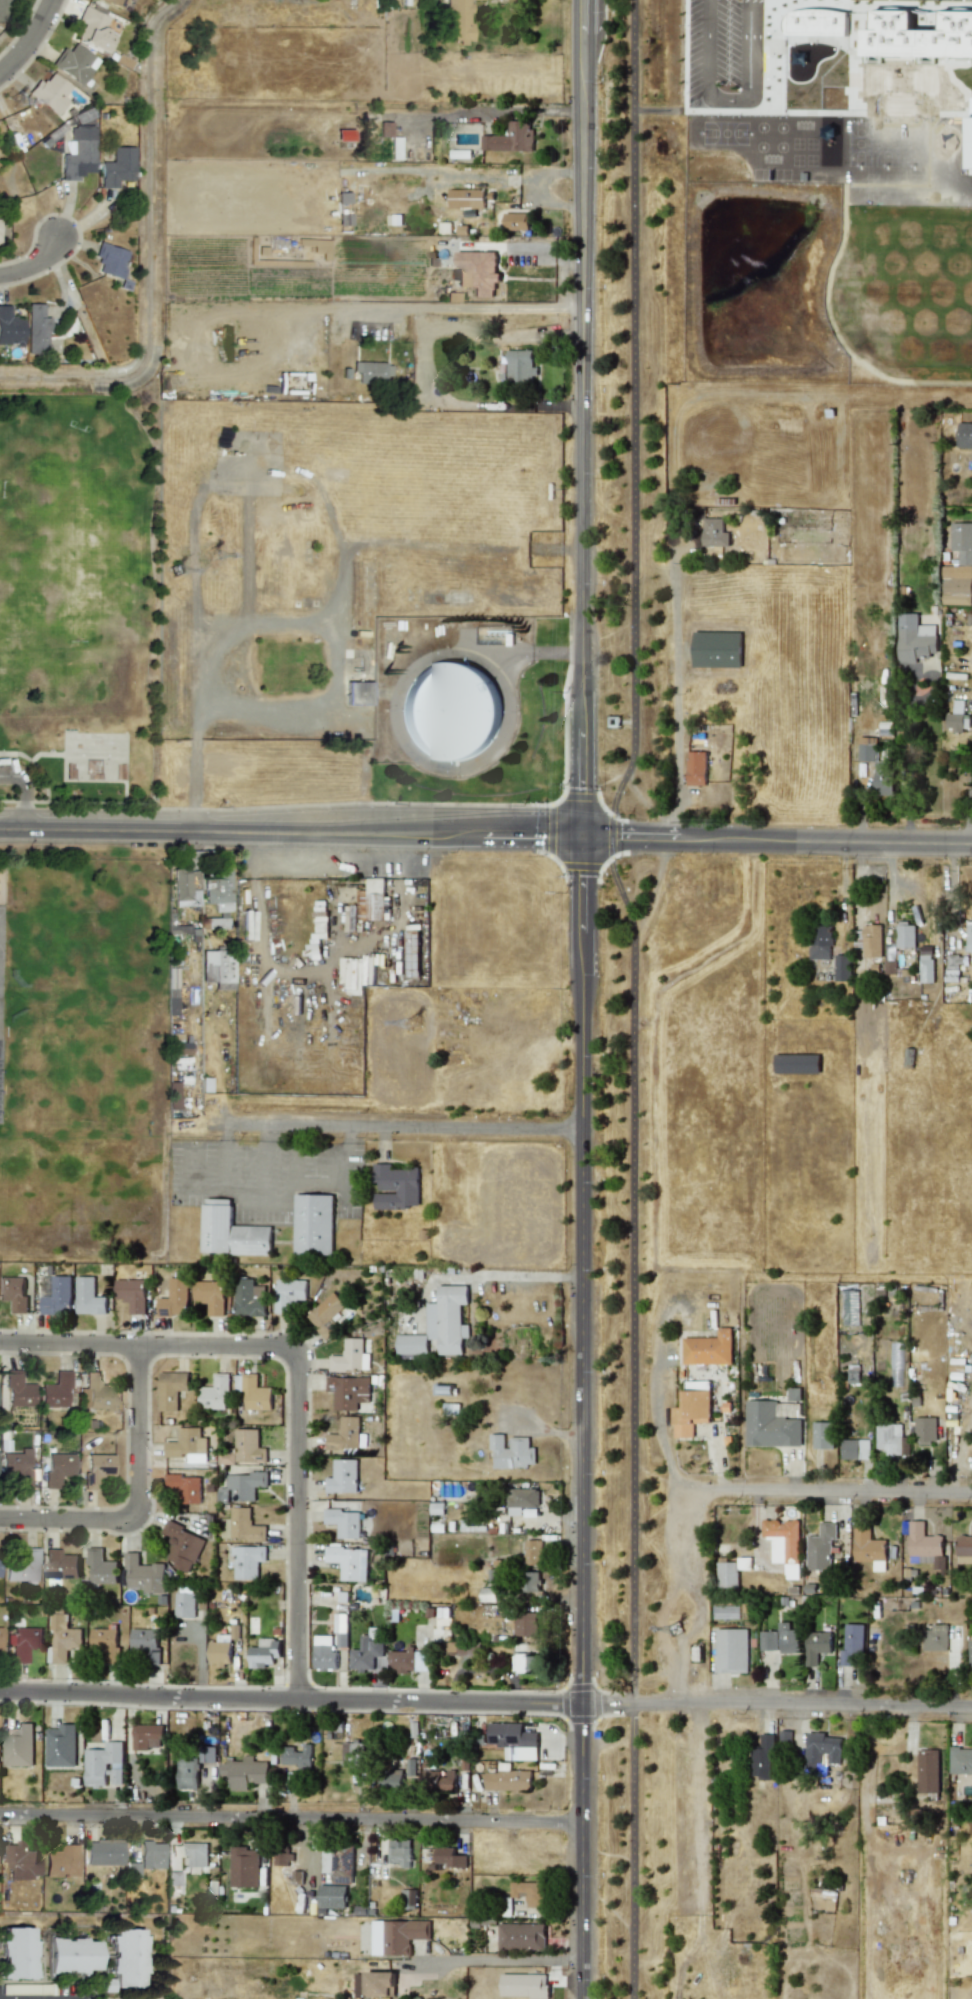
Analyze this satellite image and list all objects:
building: (114, 3)
building: (3, 6)
building: (457, 20)
building: (815, 22)
building: (92, 29)
building: (918, 36)
road: (30, 39)
building: (73, 63)
building: (49, 93)
power tower: (18, 104)
road: (490, 110)
building: (971, 135)
building: (511, 138)
road: (586, 152)
building: (78, 154)
building: (117, 167)
building: (472, 198)
building: (516, 221)
building: (110, 260)
road: (34, 264)
building: (477, 272)
road: (493, 308)
building: (9, 328)
building: (35, 329)
building: (520, 365)
building: (372, 371)
road: (505, 405)
building: (964, 434)
building: (714, 532)
power tower: (212, 555)
building: (959, 567)
road: (585, 570)
park: (71, 605)
building: (915, 638)
building: (717, 649)
road: (532, 651)
road: (414, 664)
road: (677, 691)
building: (358, 693)
building: (450, 711)
storage tank: (450, 711)
building: (957, 716)
building: (867, 749)
road: (908, 760)
parking lot: (8, 764)
building: (696, 767)
building: (883, 778)
road: (20, 793)
road: (969, 804)
road: (292, 831)
road: (778, 840)
building: (185, 887)
building: (217, 888)
road: (952, 893)
road: (912, 894)
road: (890, 897)
building: (366, 904)
building: (906, 934)
building: (969, 937)
building: (820, 941)
building: (872, 941)
building: (954, 966)
building: (842, 967)
building: (926, 967)
building: (217, 968)
building: (355, 974)
road: (633, 995)
power tower: (409, 1005)
building: (798, 1063)
road: (404, 1127)
road: (381, 1143)
road: (223, 1157)
road: (263, 1164)
road: (294, 1167)
parking lot: (263, 1176)
road: (189, 1182)
road: (307, 1186)
building: (395, 1187)
building: (312, 1228)
building: (230, 1235)
road: (509, 1275)
building: (14, 1293)
building: (132, 1294)
building: (289, 1294)
building: (59, 1296)
building: (211, 1296)
building: (89, 1297)
building: (176, 1298)
building: (249, 1298)
building: (850, 1307)
building: (325, 1313)
building: (449, 1318)
building: (411, 1344)
building: (709, 1348)
building: (350, 1357)
power tower: (561, 1362)
road: (297, 1373)
building: (18, 1389)
building: (171, 1389)
building: (55, 1391)
building: (348, 1391)
building: (96, 1393)
building: (215, 1393)
building: (256, 1394)
building: (953, 1395)
building: (692, 1412)
road: (585, 1417)
building: (770, 1426)
building: (925, 1430)
building: (345, 1434)
building: (822, 1435)
building: (890, 1438)
building: (188, 1445)
building: (244, 1449)
building: (855, 1449)
building: (511, 1452)
building: (17, 1467)
building: (55, 1468)
building: (96, 1469)
building: (343, 1477)
building: (184, 1487)
building: (242, 1487)
road: (826, 1491)
building: (521, 1500)
road: (138, 1502)
building: (344, 1522)
building: (241, 1526)
building: (867, 1545)
building: (924, 1545)
building: (181, 1546)
building: (822, 1547)
building: (964, 1549)
building: (533, 1552)
building: (247, 1561)
building: (349, 1562)
building: (60, 1564)
building: (100, 1567)
building: (23, 1568)
building: (727, 1574)
building: (144, 1575)
building: (531, 1581)
building: (487, 1593)
building: (184, 1605)
building: (525, 1624)
building: (341, 1628)
power tower: (679, 1629)
building: (0, 1638)
building: (788, 1638)
building: (935, 1638)
building: (62, 1639)
building: (768, 1641)
building: (23, 1642)
building: (852, 1643)
building: (104, 1644)
building: (144, 1645)
building: (817, 1646)
building: (462, 1649)
building: (731, 1650)
building: (219, 1651)
building: (970, 1651)
building: (264, 1653)
building: (324, 1653)
building: (365, 1654)
building: (403, 1660)
building: (524, 1663)
road: (485, 1701)
building: (147, 1736)
building: (516, 1740)
building: (18, 1745)
building: (61, 1746)
building: (822, 1749)
building: (207, 1754)
building: (354, 1755)
building: (296, 1756)
building: (763, 1758)
building: (960, 1761)
building: (104, 1764)
building: (411, 1768)
building: (187, 1771)
building: (928, 1771)
building: (244, 1772)
building: (391, 1777)
building: (438, 1779)
building: (508, 1779)
road: (292, 1818)
building: (400, 1852)
building: (103, 1853)
building: (194, 1854)
building: (152, 1855)
building: (449, 1857)
building: (282, 1858)
building: (22, 1861)
building: (61, 1861)
building: (342, 1864)
building: (244, 1867)
building: (529, 1893)
building: (332, 1896)
building: (397, 1936)
building: (521, 1936)
building: (16, 1953)
building: (71, 1955)
building: (127, 1957)
road: (499, 1960)
building: (379, 1983)
building: (523, 1985)

